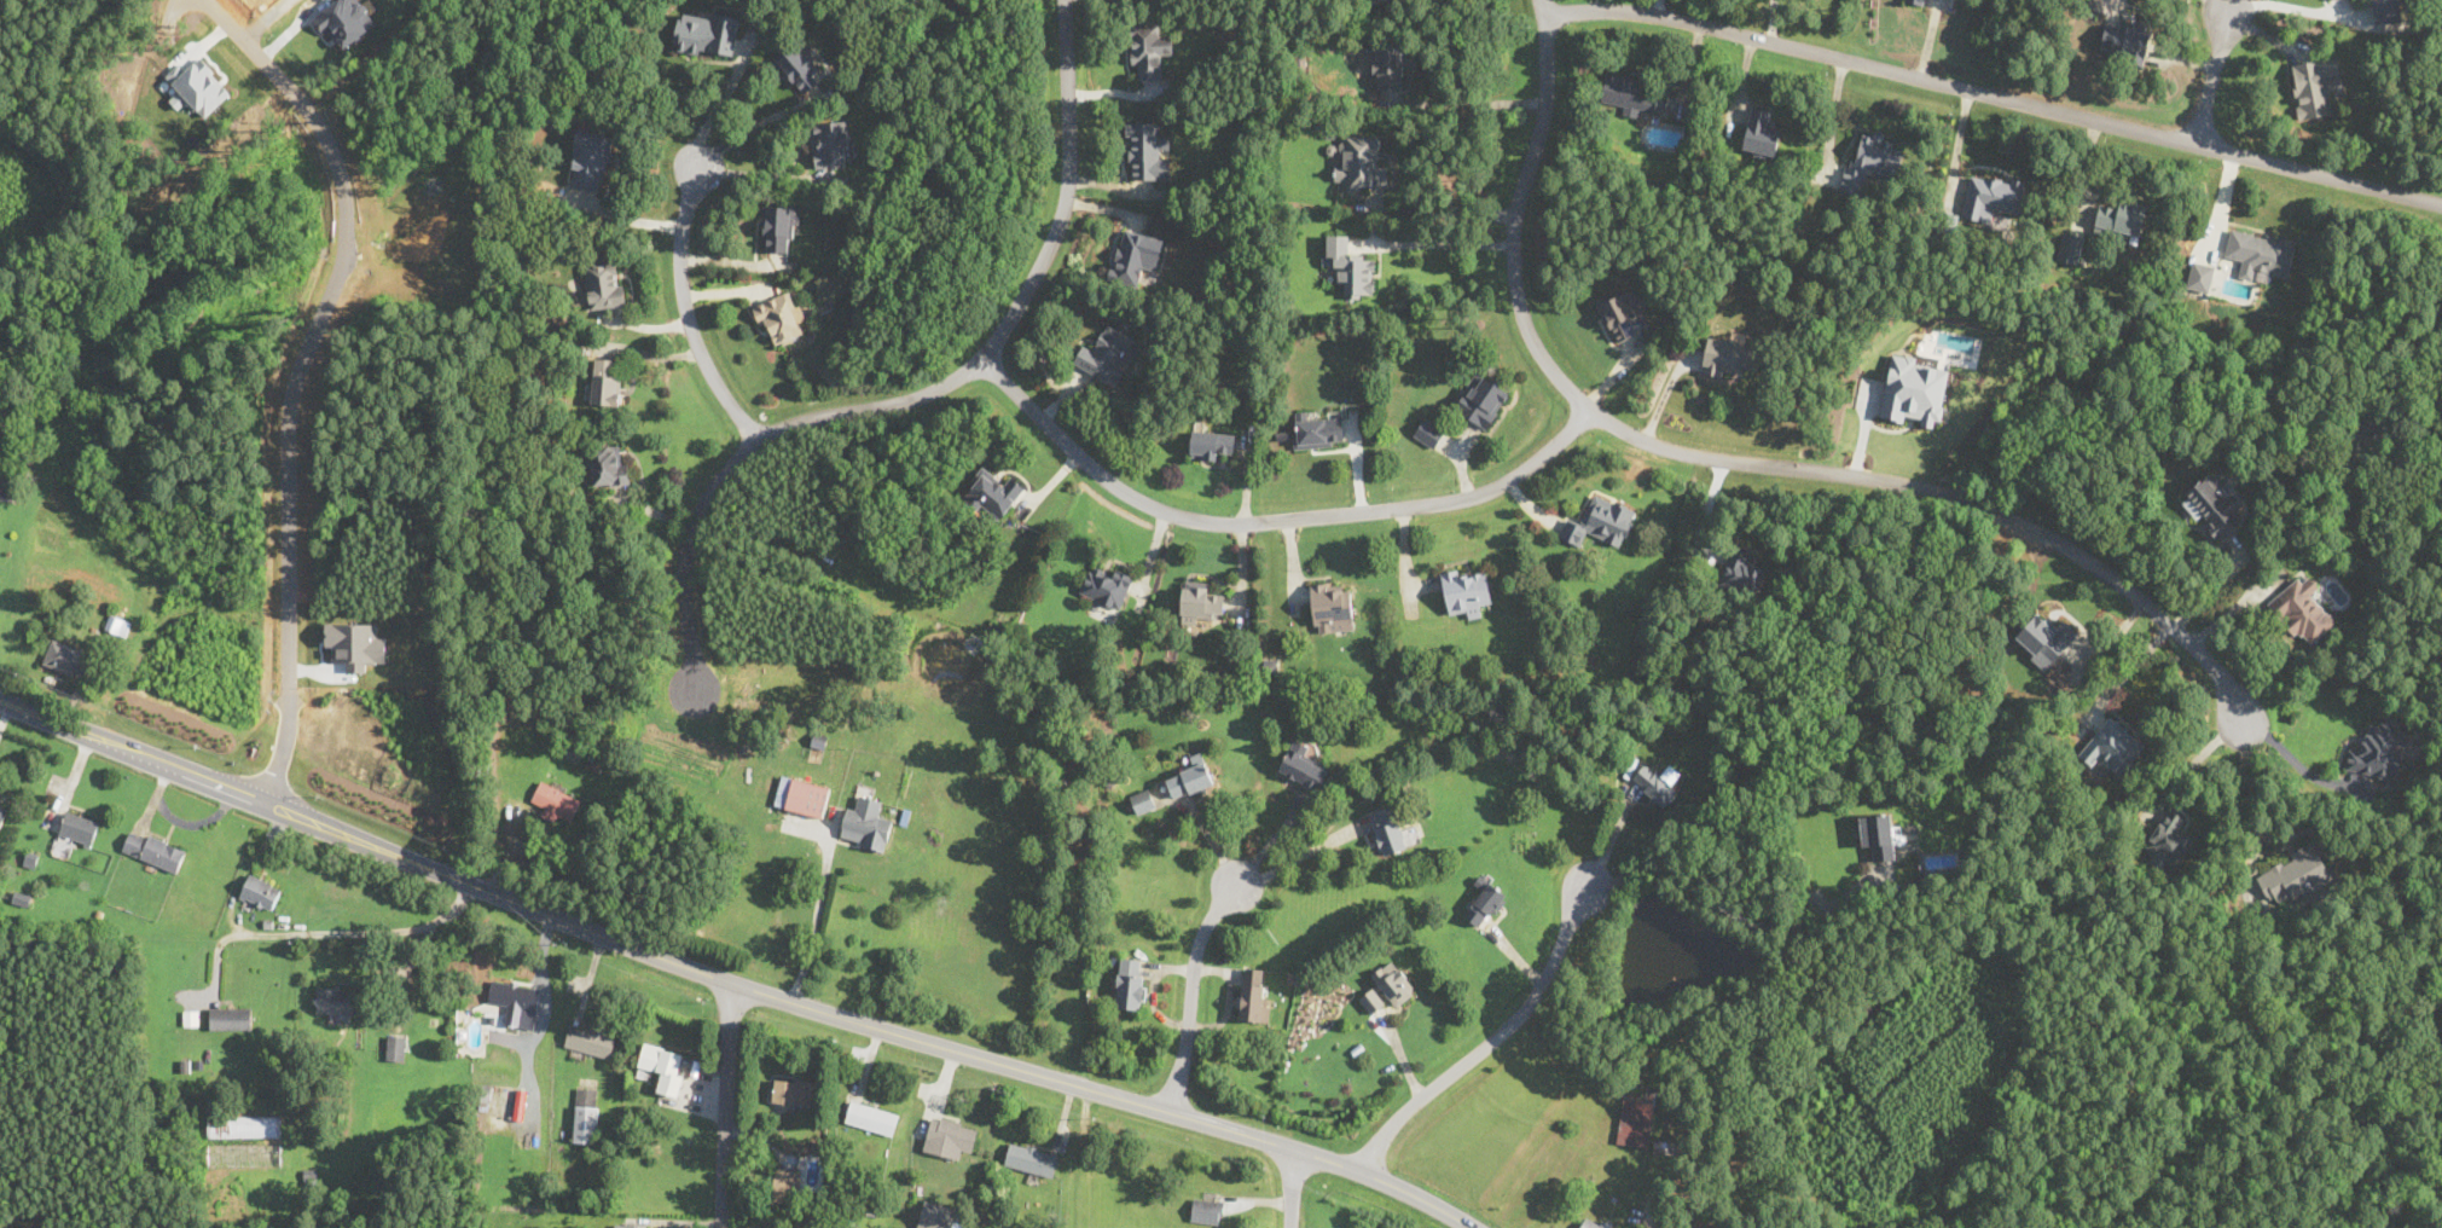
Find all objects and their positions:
building: (1916, 1)
road: (1541, 6)
road: (2227, 6)
road: (2290, 6)
building: (2388, 10)
building: (708, 33)
building: (2124, 40)
building: (1148, 48)
building: (799, 66)
building: (1388, 66)
road: (2212, 77)
building: (2315, 85)
building: (198, 87)
building: (1634, 94)
road: (1994, 94)
road: (724, 97)
road: (1462, 103)
building: (1761, 131)
building: (830, 143)
building: (1147, 151)
building: (591, 158)
building: (1872, 161)
building: (1359, 162)
building: (1991, 195)
road: (1446, 210)
building: (2121, 216)
road: (627, 218)
building: (781, 227)
road: (1435, 244)
building: (2070, 247)
building: (2260, 253)
building: (1133, 255)
building: (1350, 266)
building: (2199, 276)
building: (602, 286)
road: (685, 301)
building: (1622, 313)
building: (779, 318)
building: (1107, 354)
building: (1730, 355)
road: (306, 380)
building: (607, 381)
building: (1914, 389)
road: (926, 392)
building: (1481, 398)
building: (2373, 425)
building: (1317, 430)
building: (1428, 431)
building: (1212, 445)
road: (1742, 460)
building: (605, 465)
building: (11, 488)
building: (992, 493)
building: (2214, 504)
road: (1272, 519)
building: (1600, 520)
building: (47, 529)
building: (1741, 570)
building: (1106, 584)
building: (1464, 591)
building: (1199, 599)
building: (1330, 607)
building: (2302, 609)
building: (117, 624)
building: (2043, 638)
building: (66, 658)
road: (2129, 672)
building: (2111, 746)
building: (2379, 751)
road: (2197, 758)
road: (2293, 761)
building: (1303, 765)
building: (1190, 777)
road: (2250, 778)
building: (1655, 783)
building: (807, 797)
building: (555, 800)
building: (1143, 800)
building: (2, 813)
building: (866, 823)
building: (79, 828)
building: (1387, 828)
road: (1613, 829)
building: (1880, 834)
road: (1274, 838)
building: (2169, 839)
building: (153, 848)
road: (1301, 855)
road: (244, 869)
building: (2293, 873)
building: (260, 892)
building: (1485, 904)
road: (1736, 908)
road: (817, 920)
road: (323, 932)
road: (731, 981)
building: (1393, 981)
building: (1130, 983)
road: (1191, 992)
building: (1254, 994)
building: (336, 1000)
building: (1373, 1000)
building: (516, 1001)
building: (230, 1016)
road: (541, 1020)
building: (590, 1039)
road: (1491, 1039)
building: (395, 1048)
building: (665, 1066)
building: (793, 1091)
building: (509, 1097)
road: (725, 1104)
building: (586, 1114)
building: (871, 1117)
building: (1635, 1119)
building: (950, 1136)
building: (1031, 1158)
building: (789, 1180)
road: (1293, 1189)
road: (1657, 1194)
building: (1207, 1210)
building: (938, 1216)
building: (1596, 1222)
building: (630, 1224)

